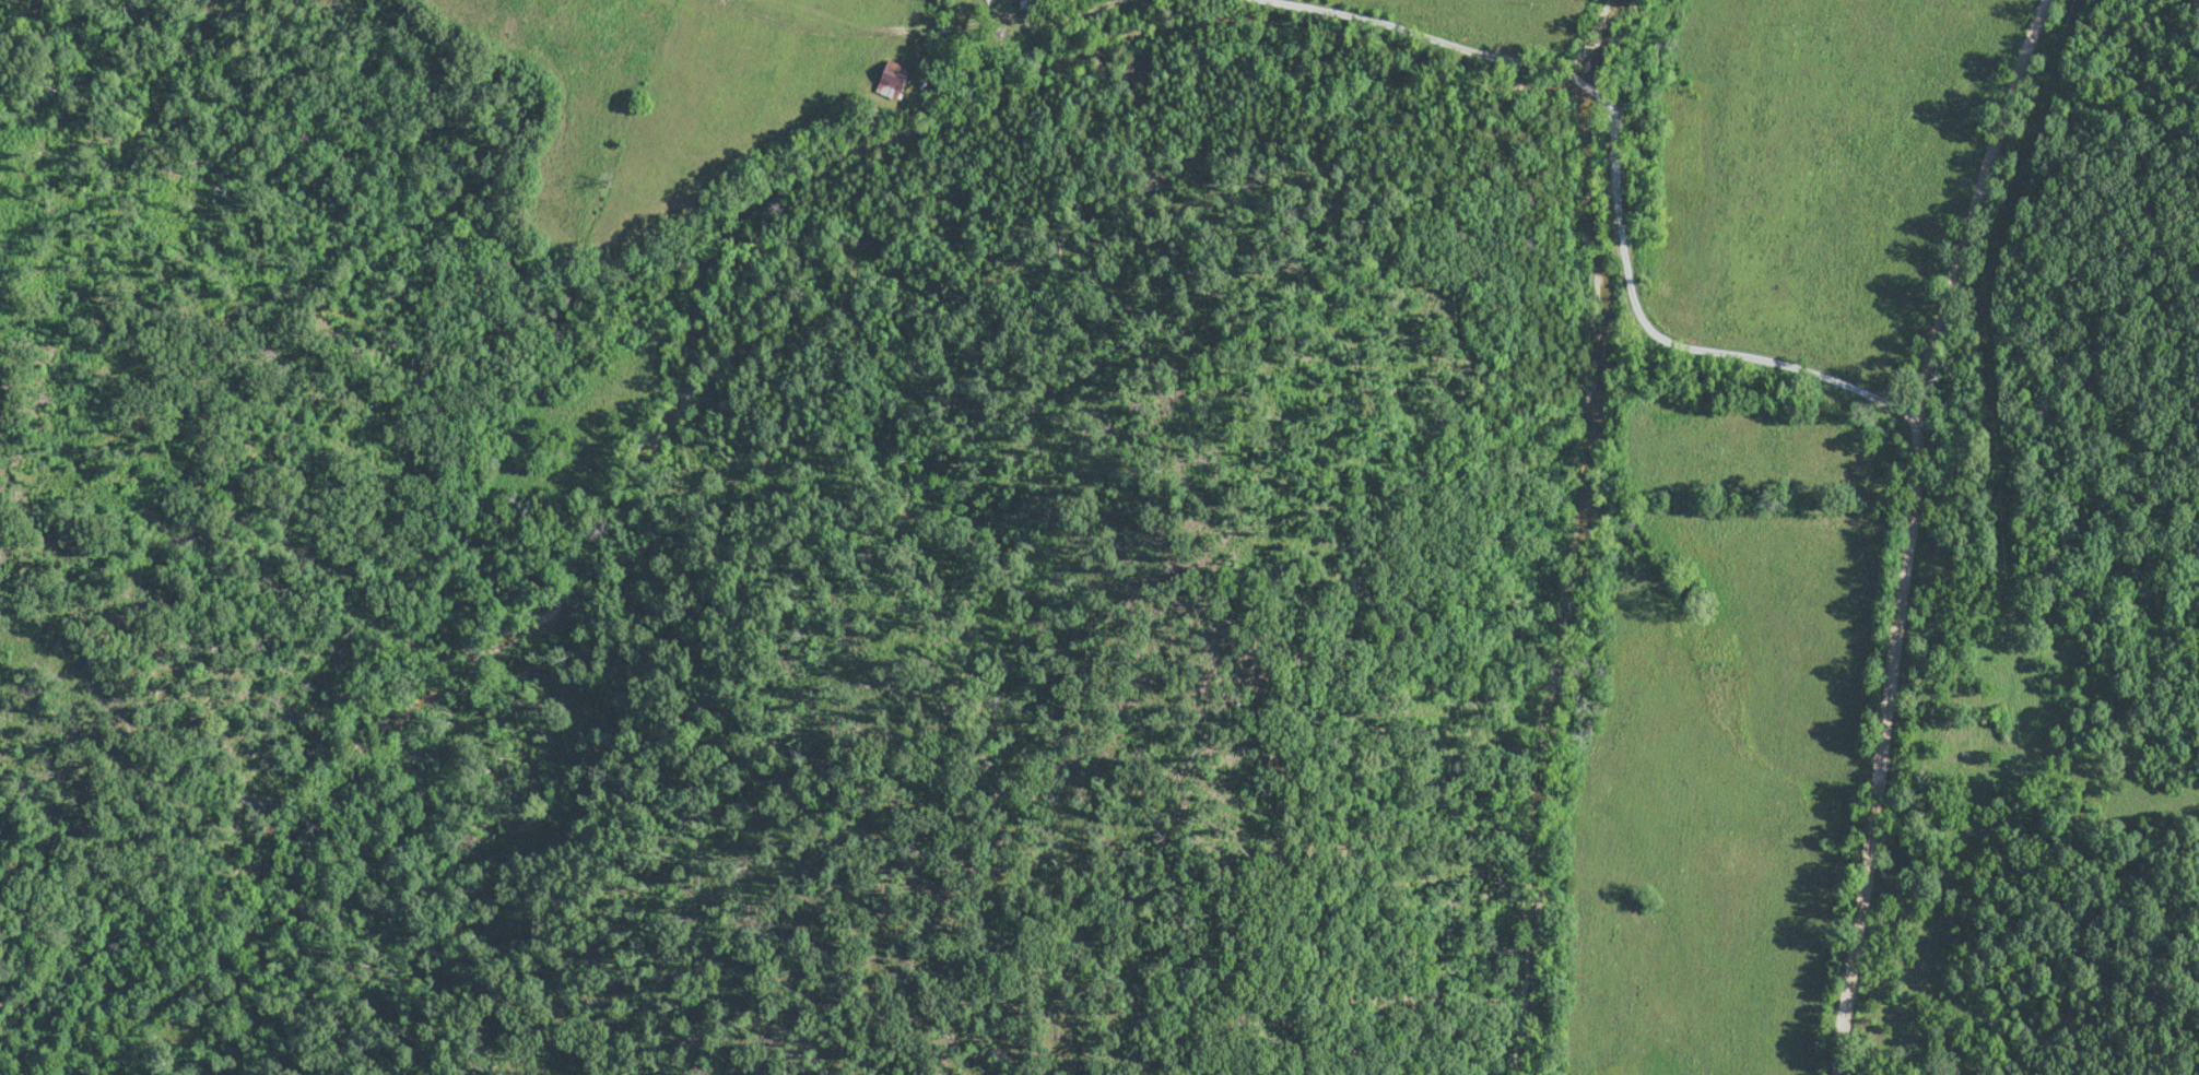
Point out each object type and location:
building: (1031, 4)
building: (897, 82)
road: (1618, 194)
road: (1908, 530)

